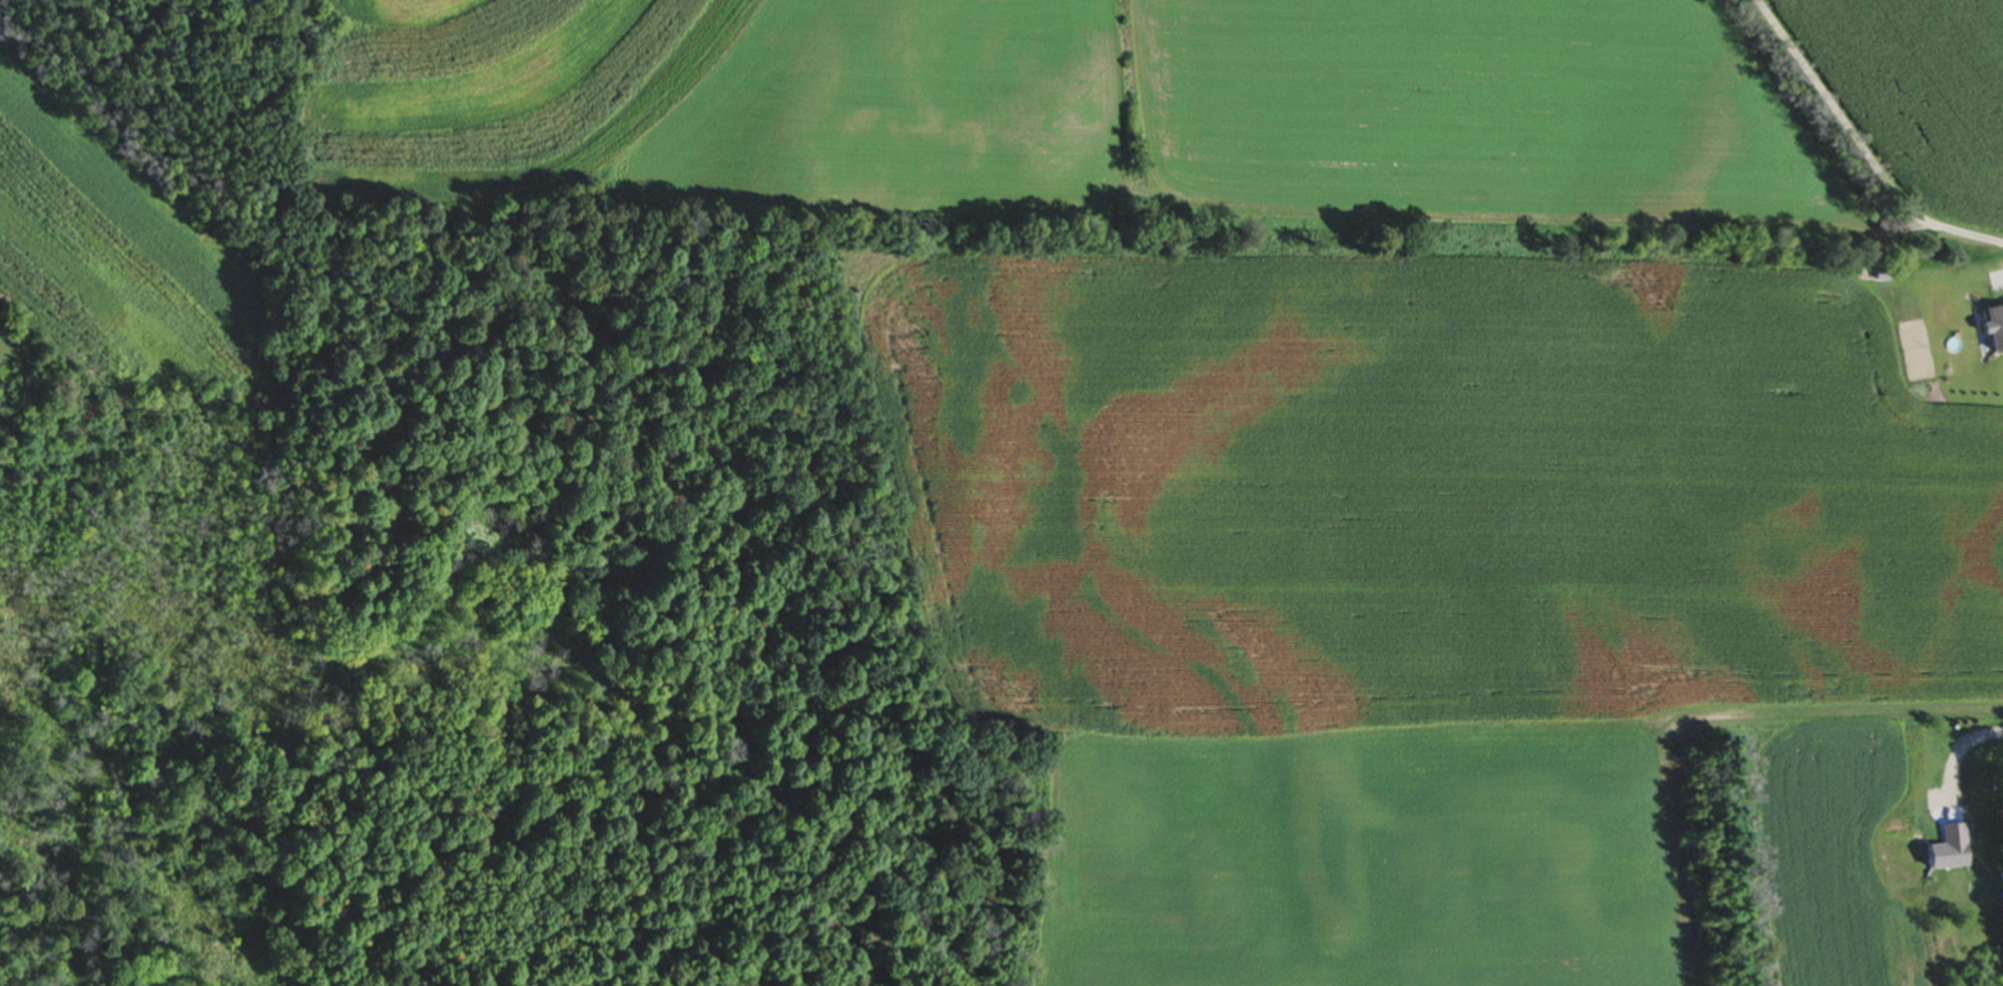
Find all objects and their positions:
road: (1863, 144)
building: (1993, 326)
road: (1953, 754)

